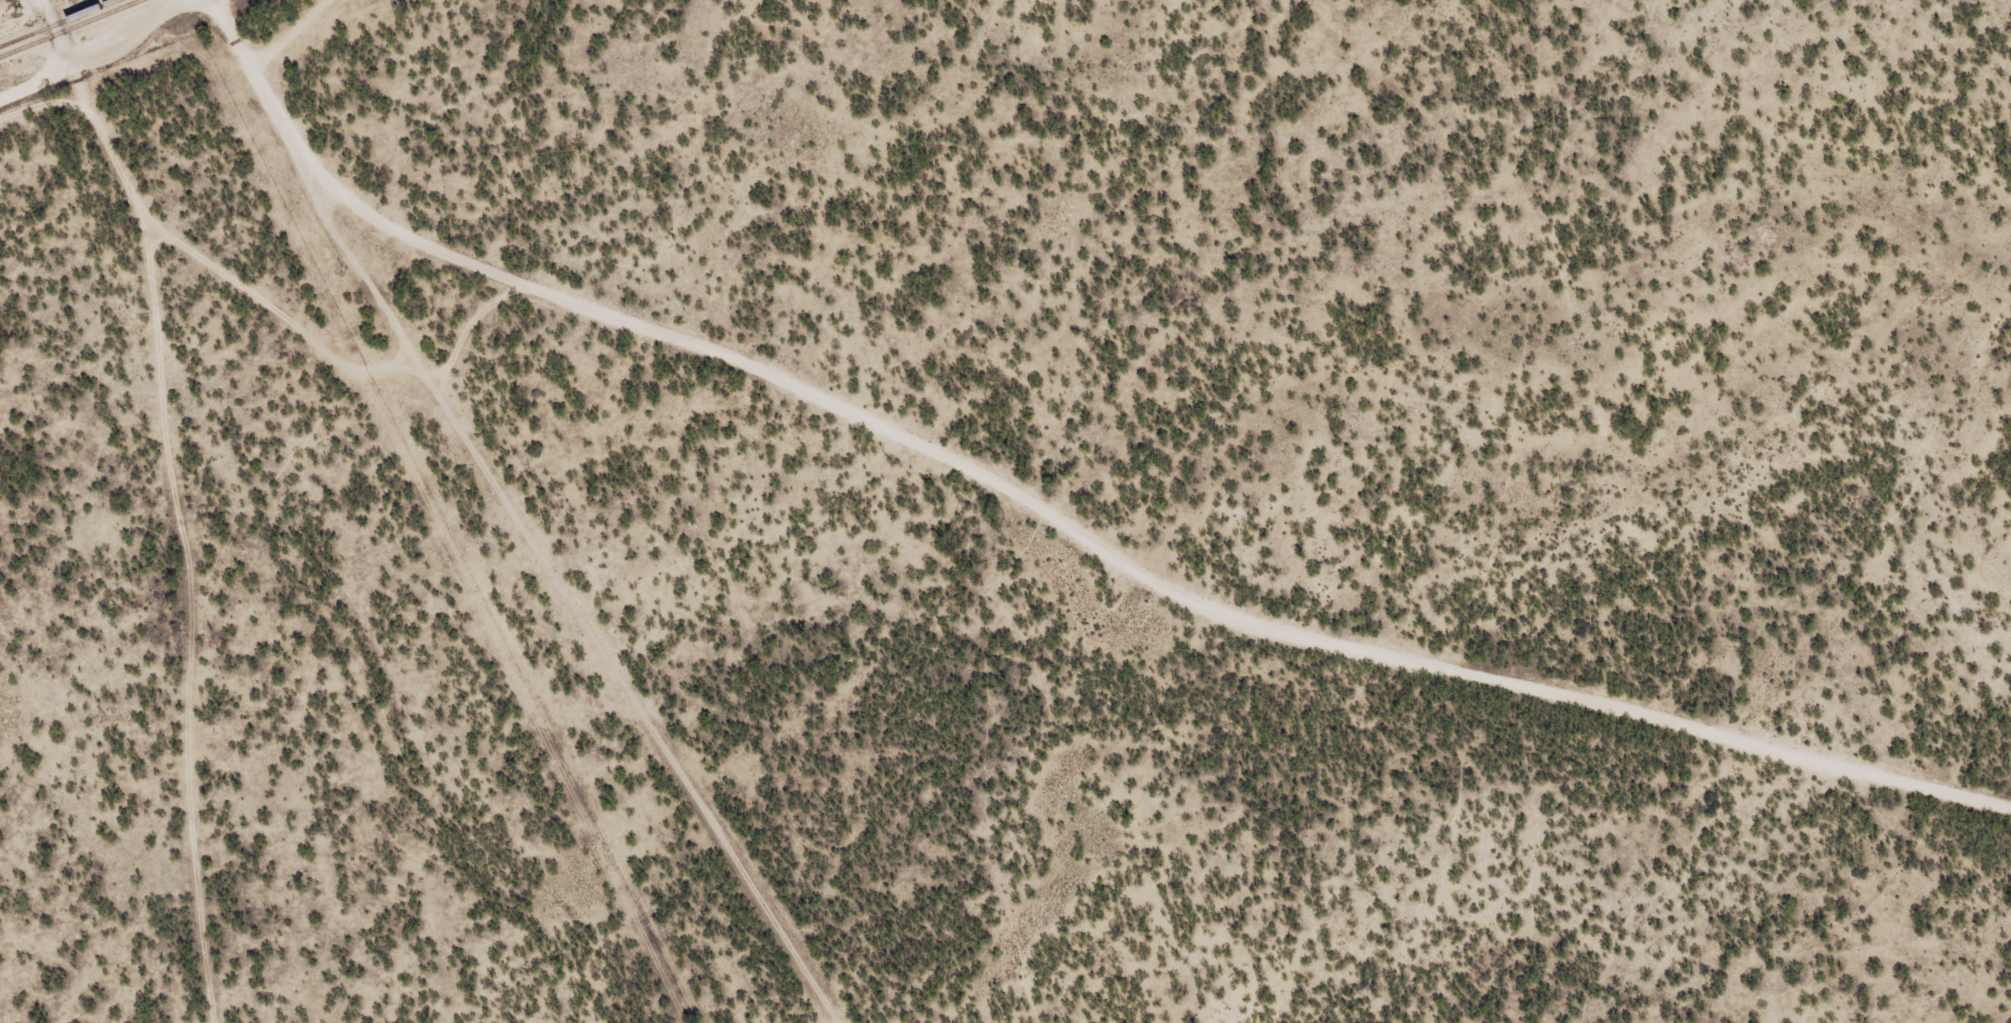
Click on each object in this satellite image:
railway: (56, 22)
railway: (69, 27)

